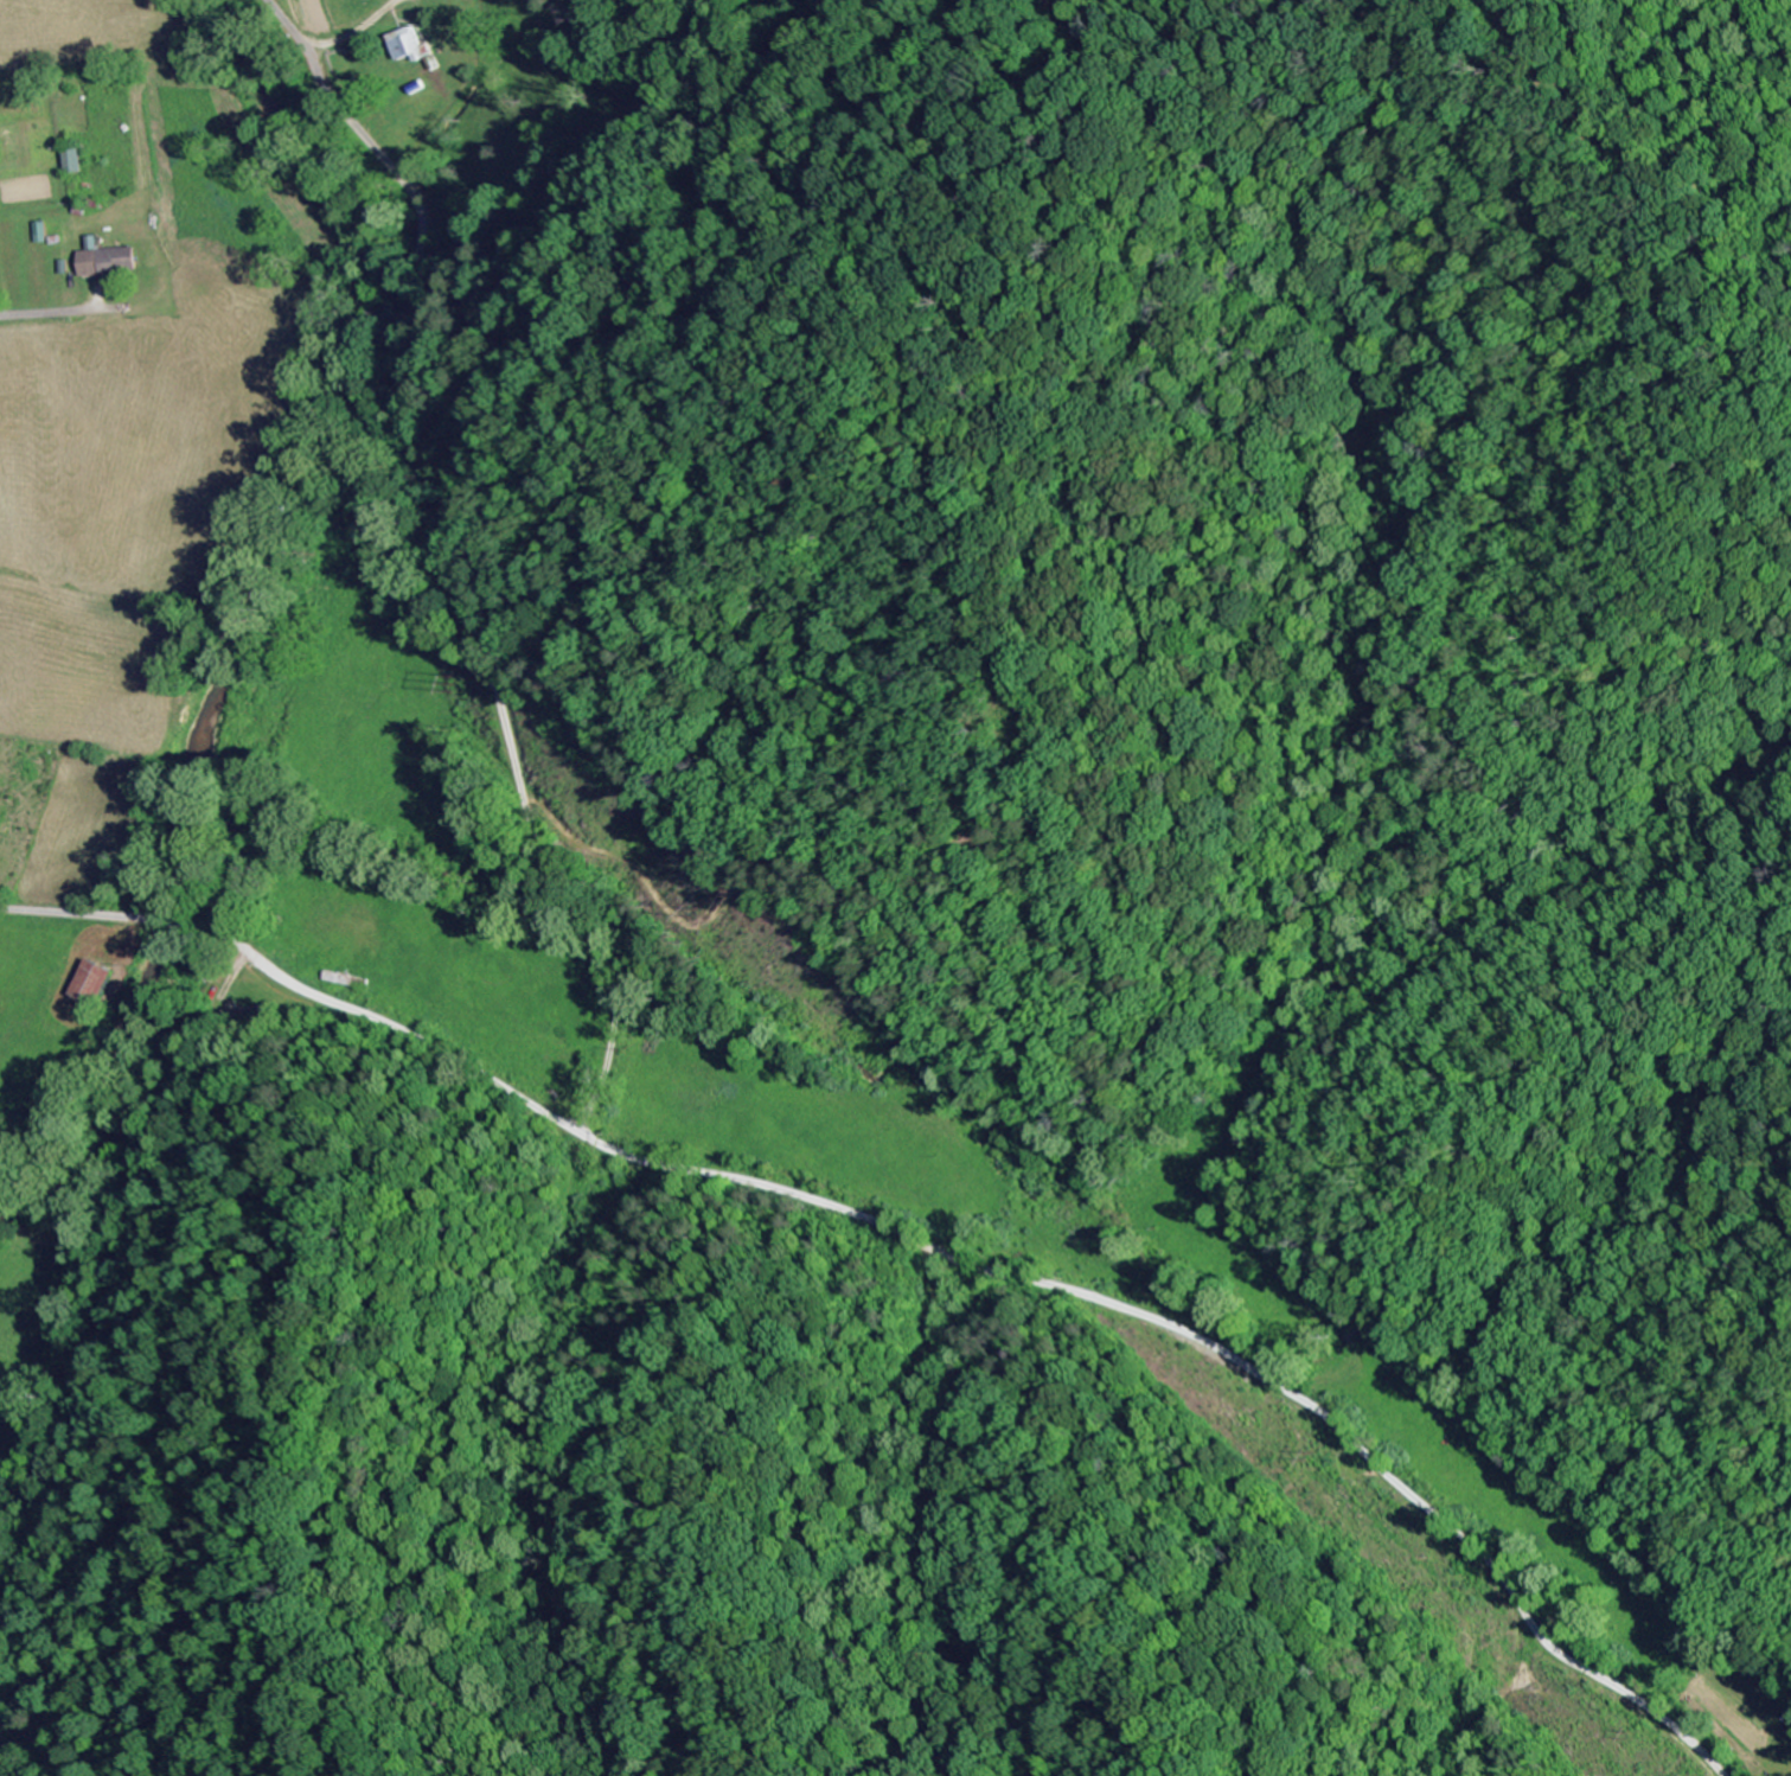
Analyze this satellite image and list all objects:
building: (409, 47)
building: (70, 162)
building: (38, 232)
building: (103, 260)
road: (430, 344)
power tower: (453, 678)
power tower: (718, 913)
road: (622, 916)
building: (92, 985)
road: (914, 1242)
power tower: (1342, 1454)
power tower: (1658, 1732)

